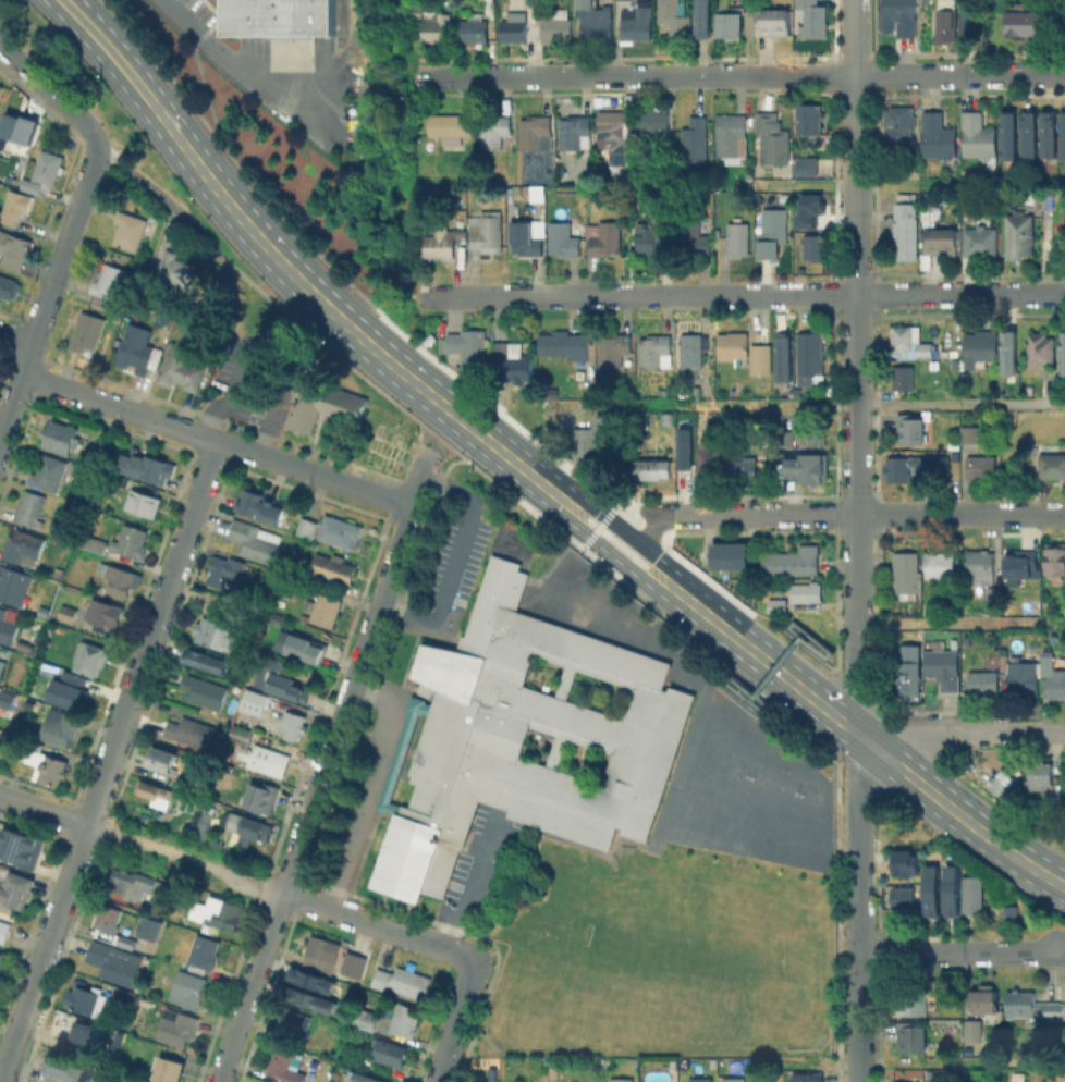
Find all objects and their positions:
building: (673, 16)
building: (703, 16)
building: (809, 17)
building: (901, 17)
building: (273, 19)
railway: (340, 19)
building: (967, 20)
building: (593, 21)
building: (730, 21)
building: (946, 21)
building: (775, 22)
building: (635, 23)
building: (1024, 23)
building: (432, 24)
building: (556, 24)
building: (473, 26)
building: (514, 26)
road: (870, 30)
road: (242, 70)
road: (897, 74)
road: (871, 75)
road: (530, 76)
road: (686, 76)
building: (1, 87)
road: (52, 91)
road: (208, 100)
building: (808, 118)
building: (653, 122)
building: (899, 123)
building: (451, 126)
building: (17, 128)
building: (616, 130)
building: (494, 131)
building: (536, 132)
building: (574, 132)
building: (730, 133)
building: (1027, 134)
building: (939, 135)
building: (1048, 135)
building: (1062, 135)
building: (1007, 136)
building: (978, 137)
building: (772, 138)
building: (694, 139)
building: (807, 165)
building: (48, 167)
road: (203, 169)
road: (138, 179)
building: (32, 185)
road: (910, 186)
building: (1046, 198)
building: (15, 206)
building: (807, 209)
building: (773, 229)
building: (130, 230)
building: (905, 230)
building: (487, 231)
building: (1019, 235)
building: (645, 236)
building: (691, 236)
building: (603, 237)
building: (525, 238)
building: (563, 238)
building: (661, 238)
building: (738, 238)
building: (979, 241)
building: (441, 242)
building: (942, 243)
building: (816, 244)
building: (14, 249)
road: (61, 253)
road: (855, 256)
building: (172, 267)
building: (109, 283)
building: (9, 286)
road: (960, 293)
road: (635, 295)
road: (383, 313)
building: (87, 331)
road: (319, 340)
building: (910, 340)
building: (565, 345)
building: (981, 345)
building: (733, 346)
building: (468, 347)
building: (139, 348)
building: (690, 348)
building: (615, 351)
building: (654, 352)
building: (1041, 352)
building: (1062, 352)
building: (809, 353)
building: (1011, 353)
building: (758, 358)
building: (786, 358)
building: (510, 362)
building: (181, 366)
building: (903, 377)
road: (13, 398)
building: (325, 403)
road: (820, 404)
road: (457, 416)
building: (911, 428)
road: (193, 432)
building: (815, 433)
building: (970, 433)
building: (61, 437)
building: (591, 438)
building: (787, 439)
road: (417, 443)
building: (682, 448)
building: (100, 450)
building: (709, 460)
building: (146, 465)
building: (1051, 465)
road: (448, 467)
building: (744, 467)
building: (910, 467)
building: (982, 467)
building: (653, 468)
building: (808, 468)
building: (49, 472)
building: (122, 480)
road: (418, 481)
road: (516, 499)
building: (144, 503)
building: (264, 506)
building: (29, 507)
road: (601, 512)
road: (960, 513)
road: (739, 515)
road: (657, 526)
building: (308, 527)
building: (341, 531)
building: (130, 540)
building: (255, 540)
building: (23, 544)
building: (93, 544)
building: (731, 556)
road: (455, 558)
building: (1055, 558)
parking lot: (453, 560)
building: (793, 561)
building: (1021, 564)
building: (980, 565)
building: (940, 566)
building: (334, 567)
building: (225, 568)
building: (907, 574)
road: (701, 575)
building: (118, 577)
building: (14, 586)
road: (695, 587)
building: (806, 591)
building: (993, 594)
building: (778, 605)
building: (327, 610)
building: (929, 610)
building: (65, 612)
building: (105, 612)
road: (856, 613)
road: (759, 616)
building: (8, 627)
road: (583, 627)
road: (789, 630)
building: (212, 631)
road: (702, 648)
building: (305, 651)
road: (811, 653)
building: (90, 657)
building: (3, 659)
road: (786, 661)
building: (205, 662)
building: (908, 668)
building: (945, 669)
road: (770, 676)
building: (1051, 676)
building: (276, 678)
building: (1021, 679)
building: (983, 683)
building: (65, 689)
road: (742, 689)
building: (204, 690)
road: (834, 699)
road: (813, 700)
building: (254, 701)
building: (9, 702)
road: (806, 710)
building: (293, 724)
building: (60, 726)
building: (189, 730)
building: (610, 731)
road: (956, 733)
building: (242, 735)
building: (399, 752)
building: (161, 759)
building: (264, 759)
road: (109, 761)
track: (681, 763)
building: (988, 763)
building: (48, 764)
road: (847, 769)
park: (737, 772)
building: (1042, 778)
park: (761, 780)
building: (999, 782)
road: (368, 787)
park: (786, 789)
building: (156, 792)
road: (314, 794)
road: (955, 794)
building: (260, 798)
park: (811, 798)
road: (44, 809)
building: (204, 822)
building: (248, 827)
park: (673, 833)
park: (691, 837)
road: (657, 839)
park: (711, 840)
park: (735, 844)
building: (22, 849)
road: (858, 854)
road: (185, 859)
building: (904, 866)
building: (133, 883)
road: (469, 883)
building: (15, 888)
building: (929, 889)
building: (950, 889)
building: (969, 892)
building: (904, 898)
building: (217, 912)
building: (1008, 912)
building: (111, 925)
road: (379, 925)
building: (146, 927)
building: (4, 932)
park: (677, 950)
building: (323, 951)
building: (204, 952)
road: (956, 952)
park: (659, 955)
building: (1, 958)
building: (113, 962)
building: (353, 966)
park: (749, 974)
building: (403, 981)
building: (311, 982)
building: (189, 989)
building: (127, 998)
building: (87, 999)
building: (309, 1000)
building: (915, 1000)
building: (930, 1000)
building: (984, 1000)
building: (1032, 1006)
building: (365, 1018)
road: (858, 1018)
building: (405, 1019)
building: (294, 1020)
road: (455, 1022)
building: (177, 1026)
building: (974, 1028)
building: (83, 1036)
building: (913, 1038)
building: (390, 1052)
building: (286, 1065)
building: (66, 1068)
building: (169, 1069)
building: (807, 1077)
building: (1063, 1077)
building: (1020, 1078)
building: (363, 1079)
building: (700, 1079)
building: (734, 1079)
building: (142, 1080)
building: (622, 1080)

